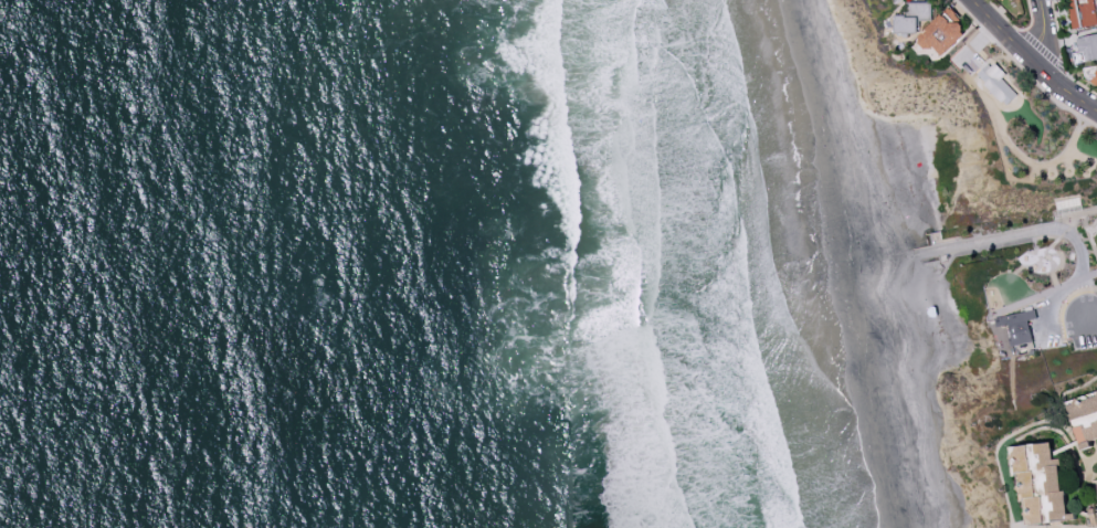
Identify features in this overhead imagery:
building: (1083, 12)
building: (914, 17)
building: (941, 34)
road: (1054, 44)
building: (1088, 45)
road: (1031, 61)
building: (1096, 68)
building: (999, 83)
road: (1026, 234)
park: (925, 237)
park: (1055, 263)
road: (1084, 297)
parking lot: (1088, 311)
building: (1019, 326)
building: (1084, 418)
road: (1000, 461)
building: (1026, 479)
building: (1094, 515)

